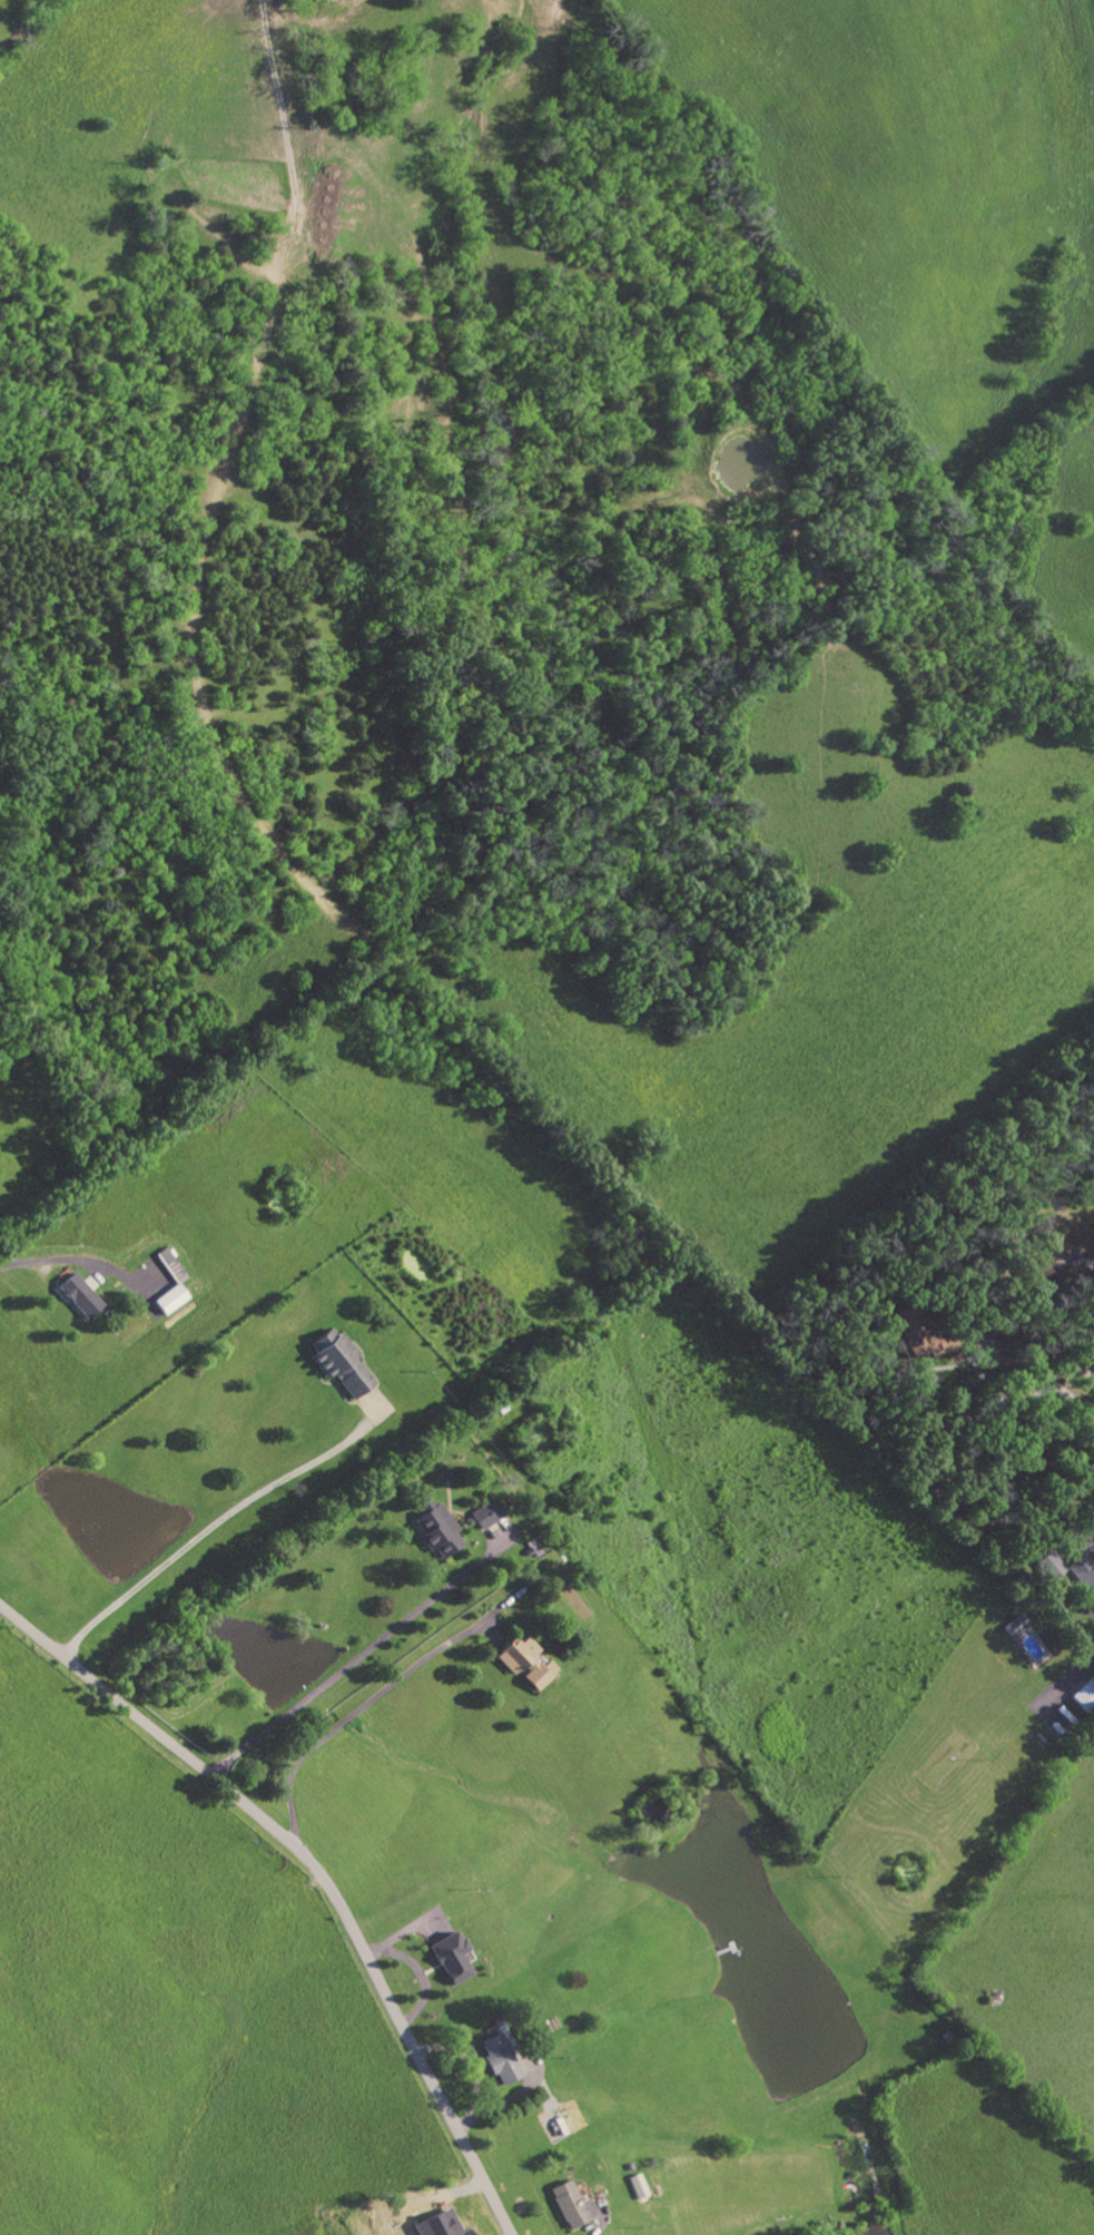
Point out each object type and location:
road: (76, 1261)
building: (170, 1267)
building: (1041, 1273)
building: (79, 1297)
building: (170, 1301)
building: (914, 1335)
building: (339, 1363)
road: (1072, 1393)
building: (487, 1516)
road: (216, 1526)
building: (438, 1530)
building: (1051, 1568)
building: (1016, 1626)
road: (361, 1658)
building: (525, 1664)
road: (1067, 1684)
building: (1085, 1697)
road: (372, 1702)
road: (314, 1872)
building: (449, 1958)
building: (496, 2059)
building: (566, 2205)
road: (600, 2221)
building: (438, 2225)

